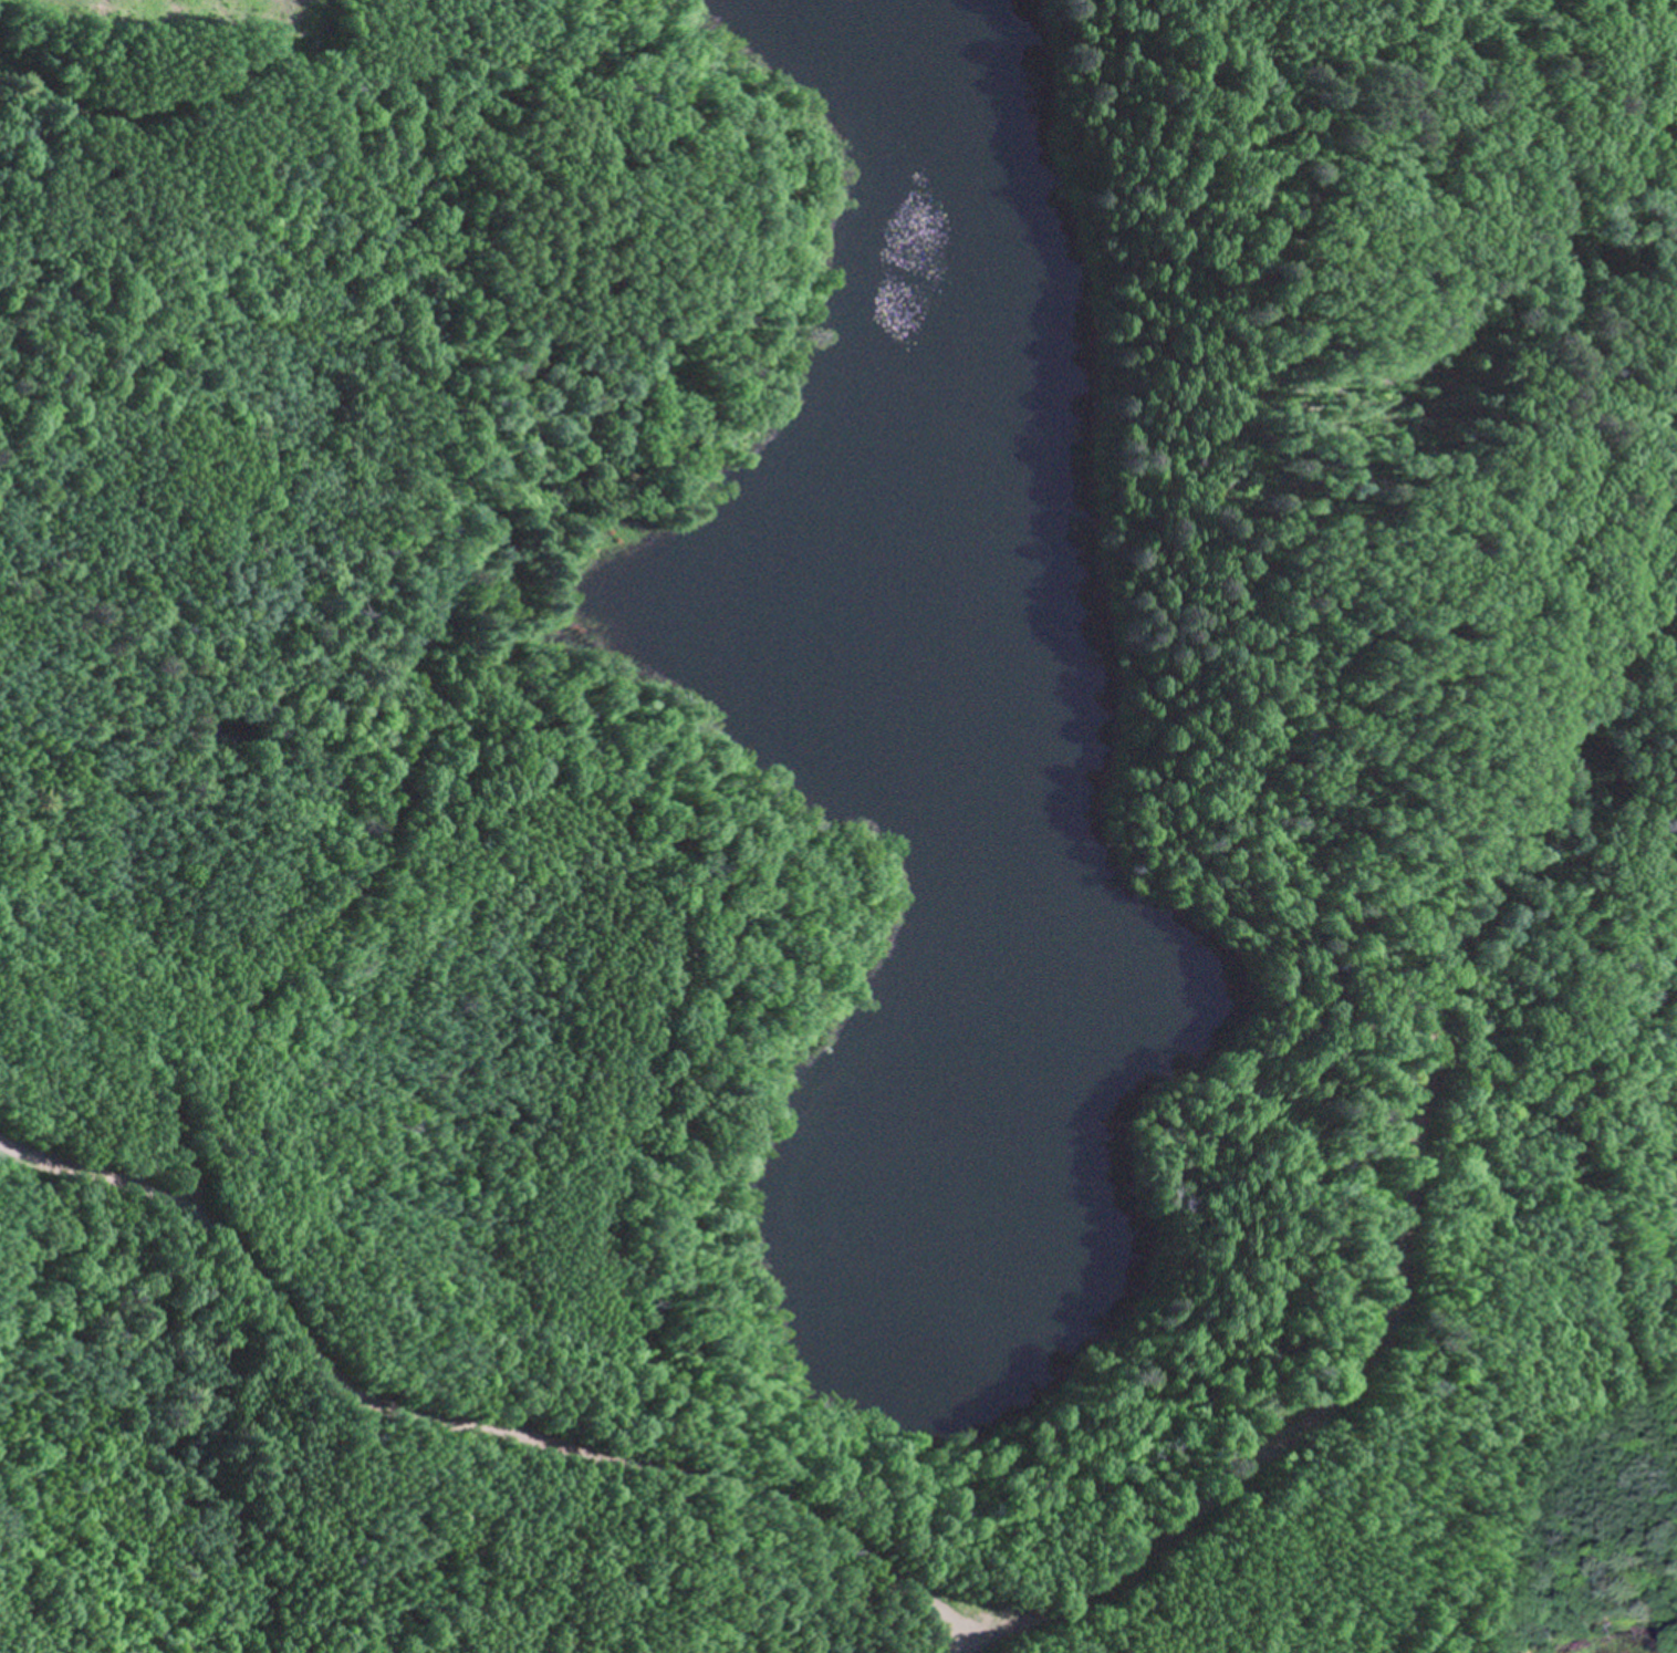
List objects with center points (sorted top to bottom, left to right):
quarry: (219, 21)
quarry: (233, 818)
road: (352, 879)
road: (1400, 1183)
road: (465, 1425)

